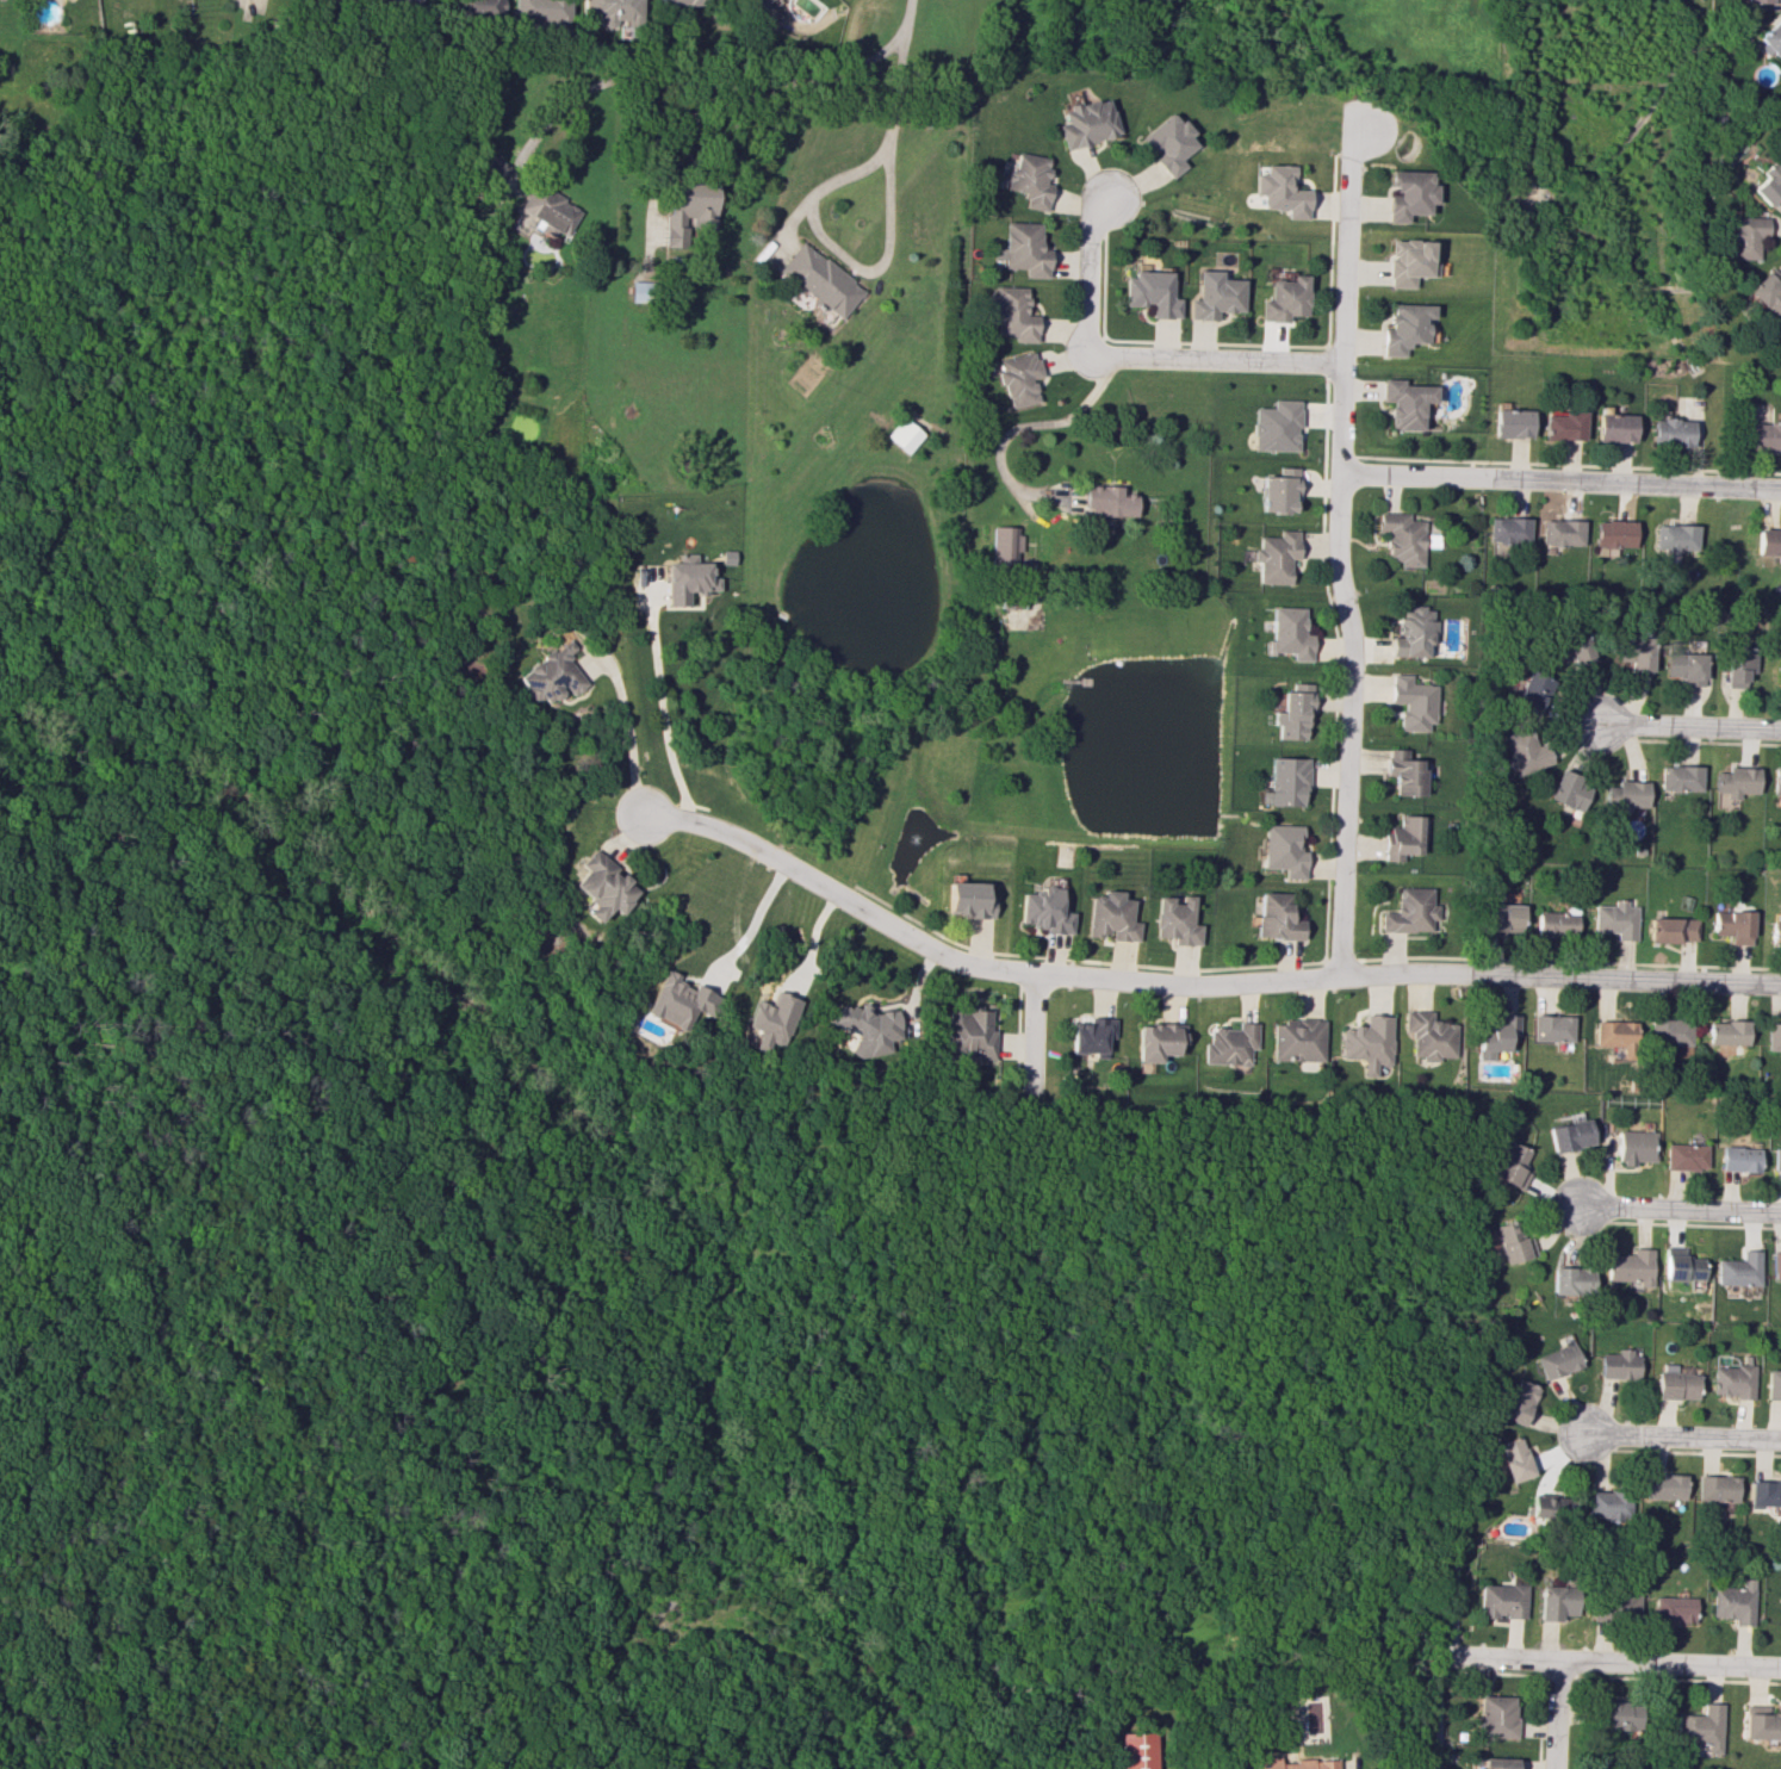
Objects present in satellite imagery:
building: (418, 0)
building: (1762, 0)
building: (679, 2)
building: (757, 2)
building: (485, 6)
building: (541, 11)
building: (614, 11)
road: (905, 17)
building: (1773, 41)
road: (705, 77)
building: (1087, 123)
road: (677, 141)
building: (1169, 143)
building: (492, 172)
building: (1030, 180)
building: (1770, 182)
building: (1280, 191)
building: (1408, 194)
building: (548, 209)
building: (688, 209)
building: (1746, 236)
building: (1023, 249)
road: (883, 252)
building: (1407, 262)
road: (1088, 274)
building: (820, 279)
building: (638, 290)
building: (1150, 292)
building: (1767, 292)
building: (1215, 296)
building: (1284, 298)
building: (1011, 314)
building: (1404, 328)
road: (1215, 359)
building: (1017, 378)
building: (1404, 402)
building: (1512, 422)
building: (1563, 424)
road: (1028, 426)
building: (1276, 426)
building: (1614, 427)
building: (1670, 432)
building: (902, 434)
building: (1764, 435)
road: (1560, 480)
building: (1278, 490)
building: (1107, 501)
building: (1508, 528)
building: (1562, 532)
building: (1614, 534)
building: (1675, 536)
building: (1402, 538)
building: (1767, 541)
building: (1003, 545)
road: (1338, 548)
building: (1274, 555)
building: (687, 578)
building: (1413, 632)
building: (1286, 633)
building: (1575, 647)
building: (1636, 652)
building: (1737, 665)
building: (1686, 668)
building: (1779, 672)
building: (553, 674)
building: (1532, 690)
building: (1411, 702)
road: (659, 707)
building: (1291, 712)
road: (1693, 726)
road: (626, 735)
building: (1525, 751)
building: (1404, 772)
building: (1681, 777)
building: (1777, 778)
building: (1284, 782)
building: (1735, 786)
building: (1570, 790)
building: (1627, 795)
building: (1403, 838)
building: (1283, 849)
building: (600, 886)
building: (968, 899)
building: (1043, 910)
building: (1411, 911)
building: (1111, 917)
building: (1278, 917)
road: (752, 918)
building: (1502, 918)
building: (1175, 919)
building: (1616, 919)
building: (1556, 924)
building: (1733, 925)
building: (1673, 929)
building: (1775, 932)
park: (134, 941)
road: (1192, 985)
building: (677, 1000)
building: (770, 1019)
building: (867, 1028)
building: (1552, 1028)
park: (155, 1031)
building: (1669, 1031)
building: (1729, 1032)
building: (969, 1034)
building: (1092, 1035)
building: (1431, 1035)
building: (1497, 1035)
building: (1615, 1035)
road: (1032, 1036)
building: (1774, 1037)
building: (1159, 1039)
building: (1298, 1039)
building: (1370, 1042)
building: (1231, 1044)
building: (1780, 1057)
building: (1569, 1134)
road: (263, 1146)
building: (1633, 1147)
building: (1683, 1156)
building: (1738, 1157)
building: (1776, 1159)
building: (1510, 1165)
road: (1680, 1210)
building: (1509, 1242)
building: (1774, 1264)
building: (1677, 1265)
building: (1626, 1266)
building: (1736, 1270)
building: (1566, 1280)
building: (1553, 1360)
building: (1614, 1365)
building: (1727, 1380)
building: (1770, 1383)
building: (1671, 1384)
building: (1514, 1402)
road: (1680, 1438)
building: (1510, 1458)
building: (1661, 1486)
building: (1713, 1488)
building: (1763, 1494)
road: (92, 1500)
building: (1605, 1504)
building: (1549, 1507)
building: (1500, 1601)
building: (1555, 1602)
building: (1731, 1602)
building: (1612, 1607)
building: (1670, 1608)
road: (1611, 1663)
road: (1436, 1712)
building: (1616, 1714)
building: (1496, 1715)
road: (1553, 1715)
building: (1760, 1723)
building: (1700, 1726)
building: (1136, 1750)
road: (249, 1754)
building: (1293, 1763)
building: (1498, 1763)

